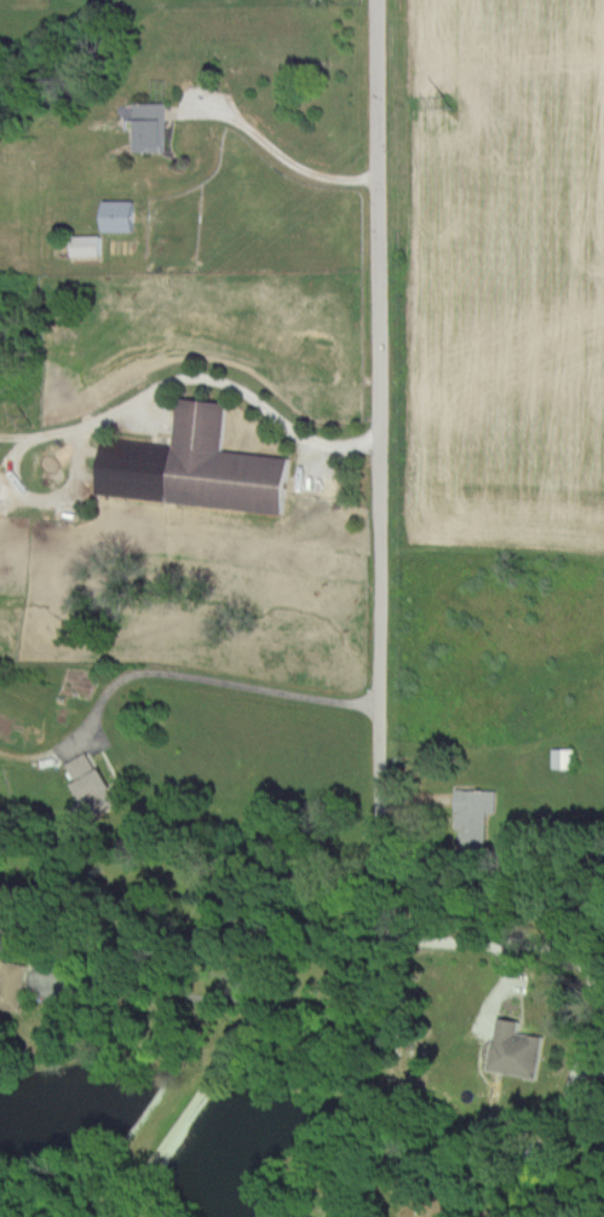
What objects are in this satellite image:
power tower: (455, 94)
building: (150, 126)
road: (272, 152)
building: (116, 214)
building: (85, 244)
road: (191, 375)
power tower: (36, 414)
building: (191, 465)
road: (378, 471)
road: (172, 674)
building: (562, 757)
building: (87, 784)
building: (473, 817)
building: (12, 981)
road: (589, 991)
road: (231, 996)
building: (513, 1046)
road: (589, 1060)
road: (189, 1102)
building: (420, 1204)

